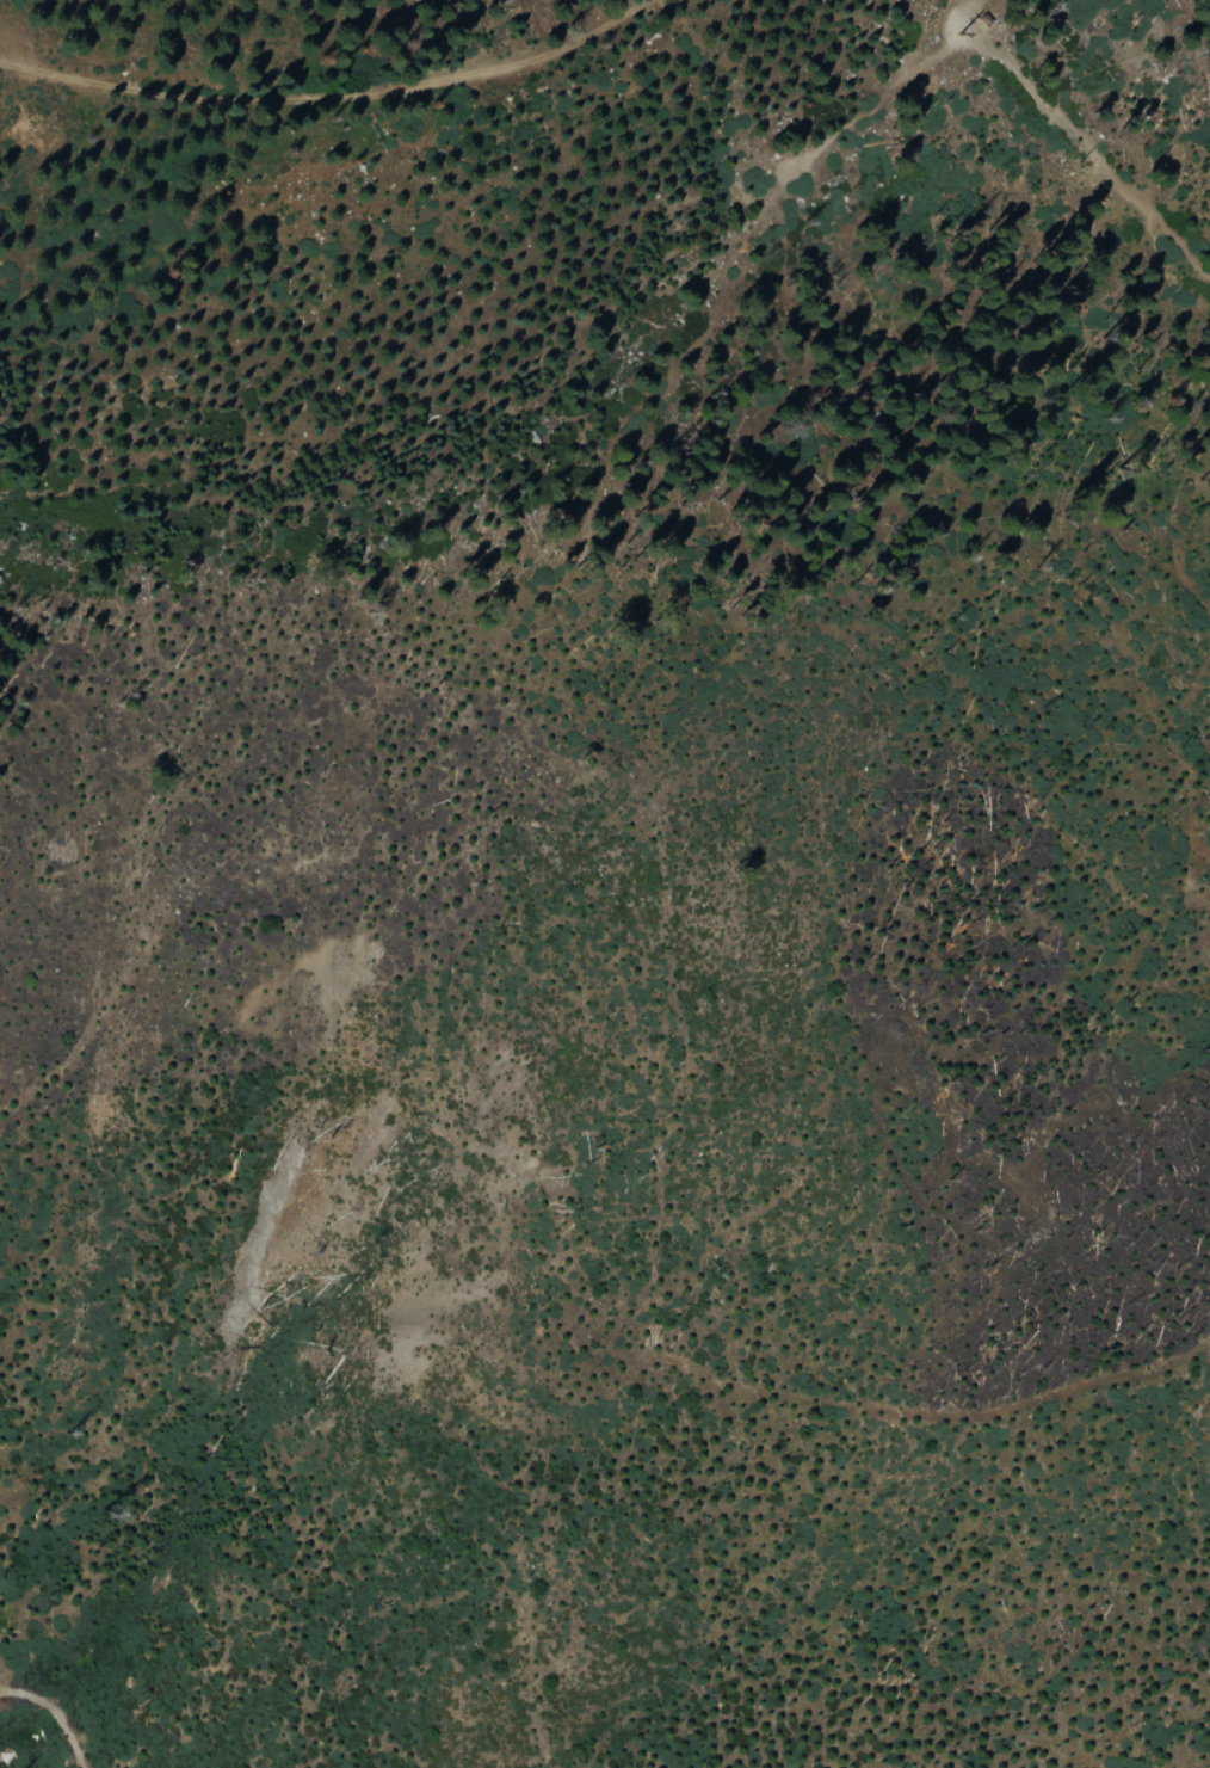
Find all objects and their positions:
power tower: (950, 33)
road: (323, 94)
power tower: (1070, 161)

